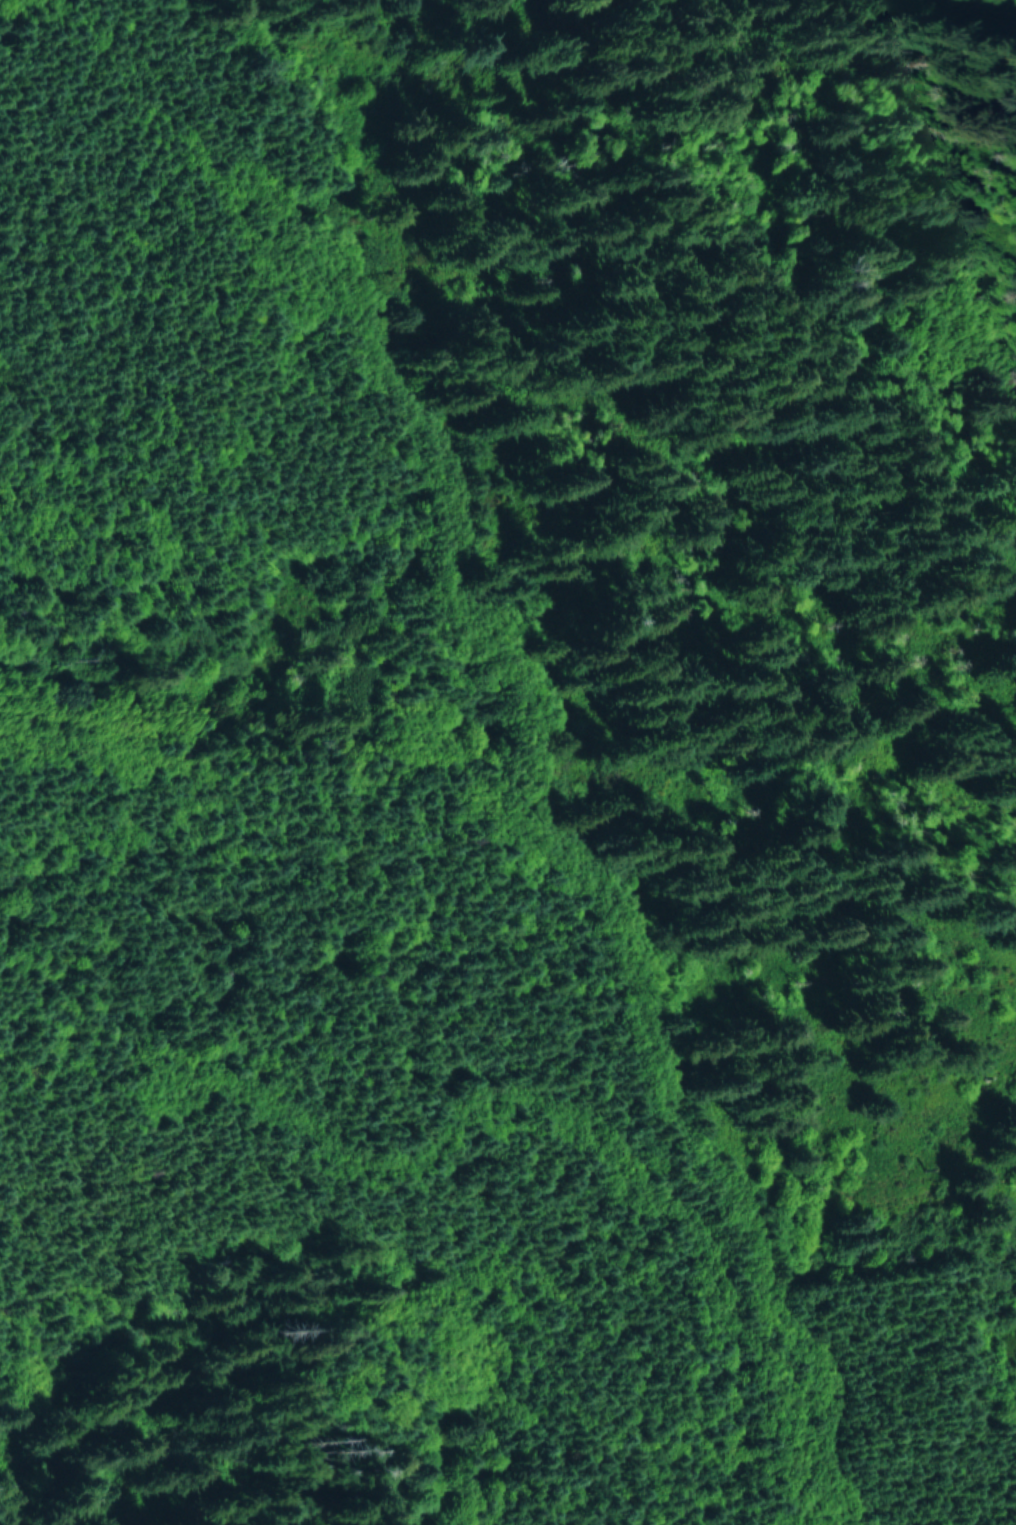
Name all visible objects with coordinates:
road: (808, 613)

